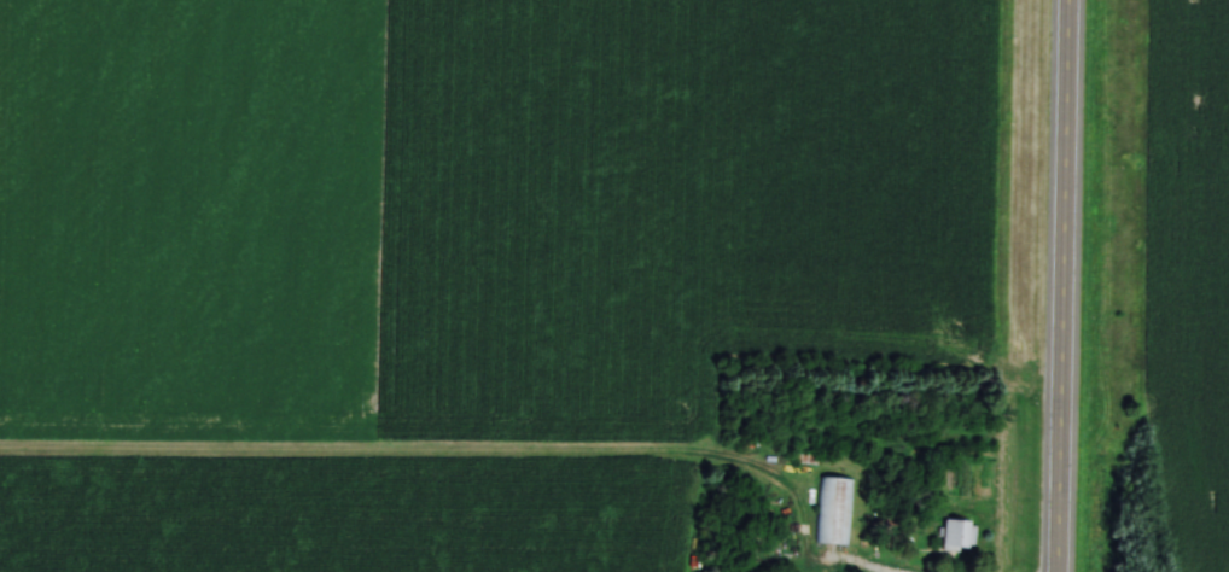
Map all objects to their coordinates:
road: (1059, 286)
building: (804, 460)
building: (833, 512)
building: (955, 535)
road: (860, 567)

